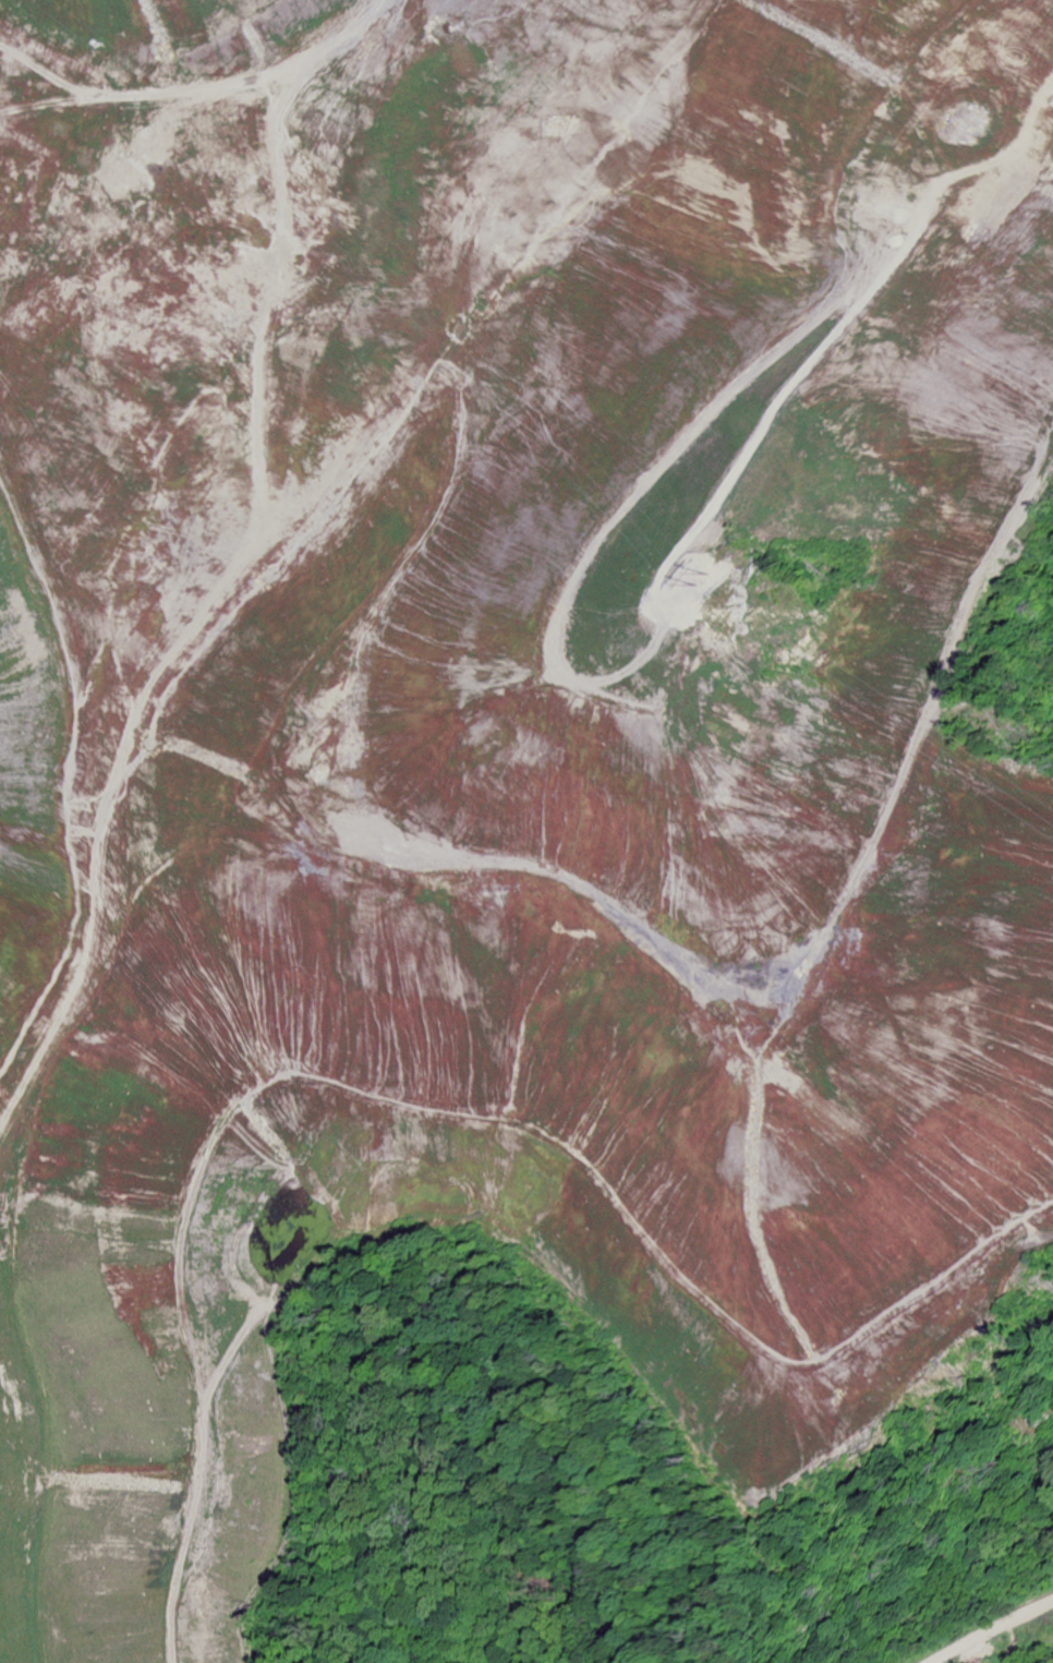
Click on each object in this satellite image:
road: (992, 1628)

